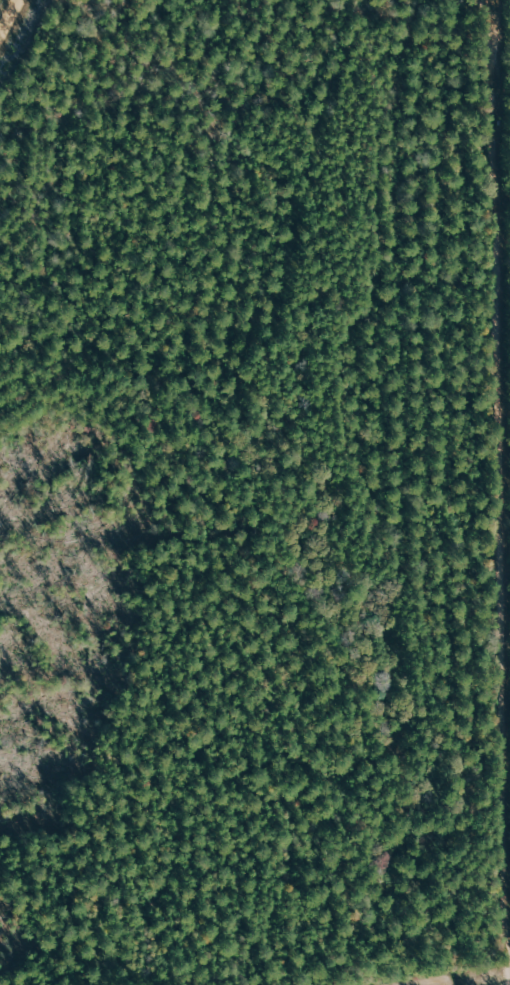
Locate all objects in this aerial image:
road: (11, 18)

